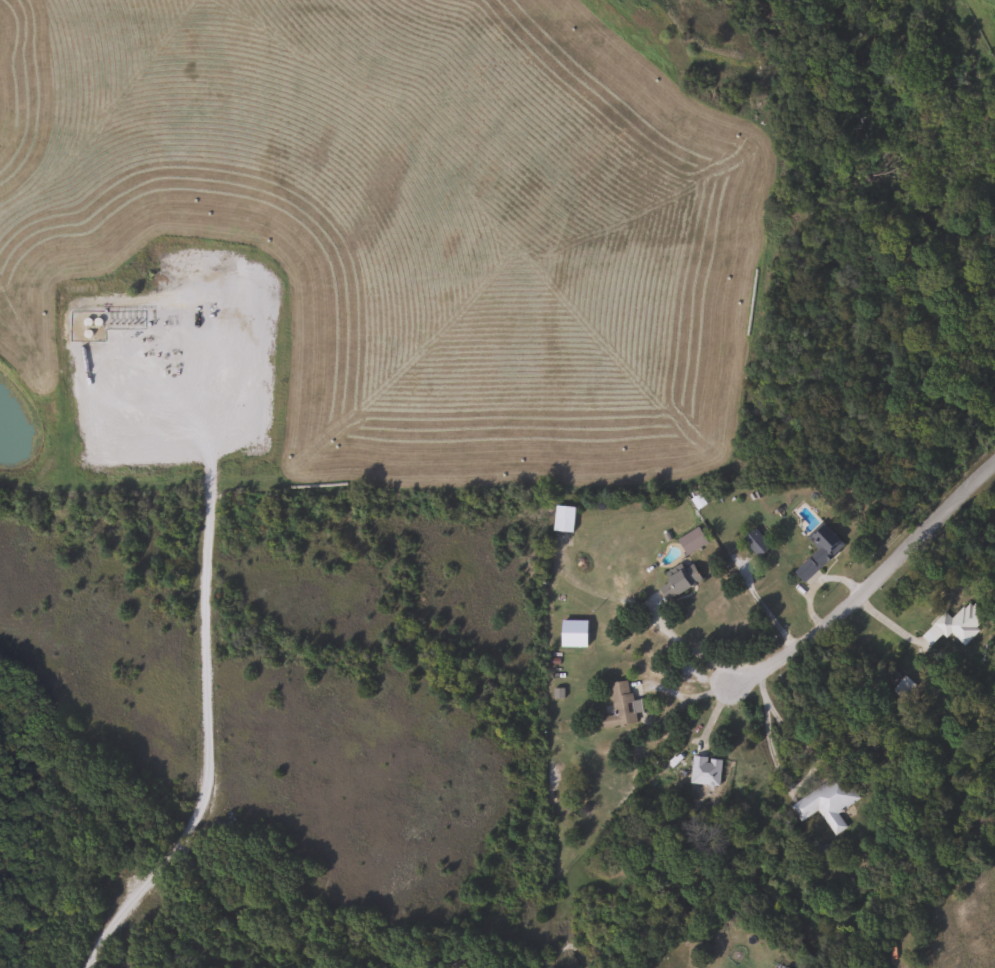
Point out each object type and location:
building: (562, 518)
building: (755, 542)
building: (817, 552)
road: (889, 572)
building: (677, 582)
road: (765, 605)
building: (959, 623)
road: (684, 646)
road: (732, 699)
building: (620, 705)
road: (204, 739)
building: (704, 770)
road: (811, 776)
building: (825, 801)

